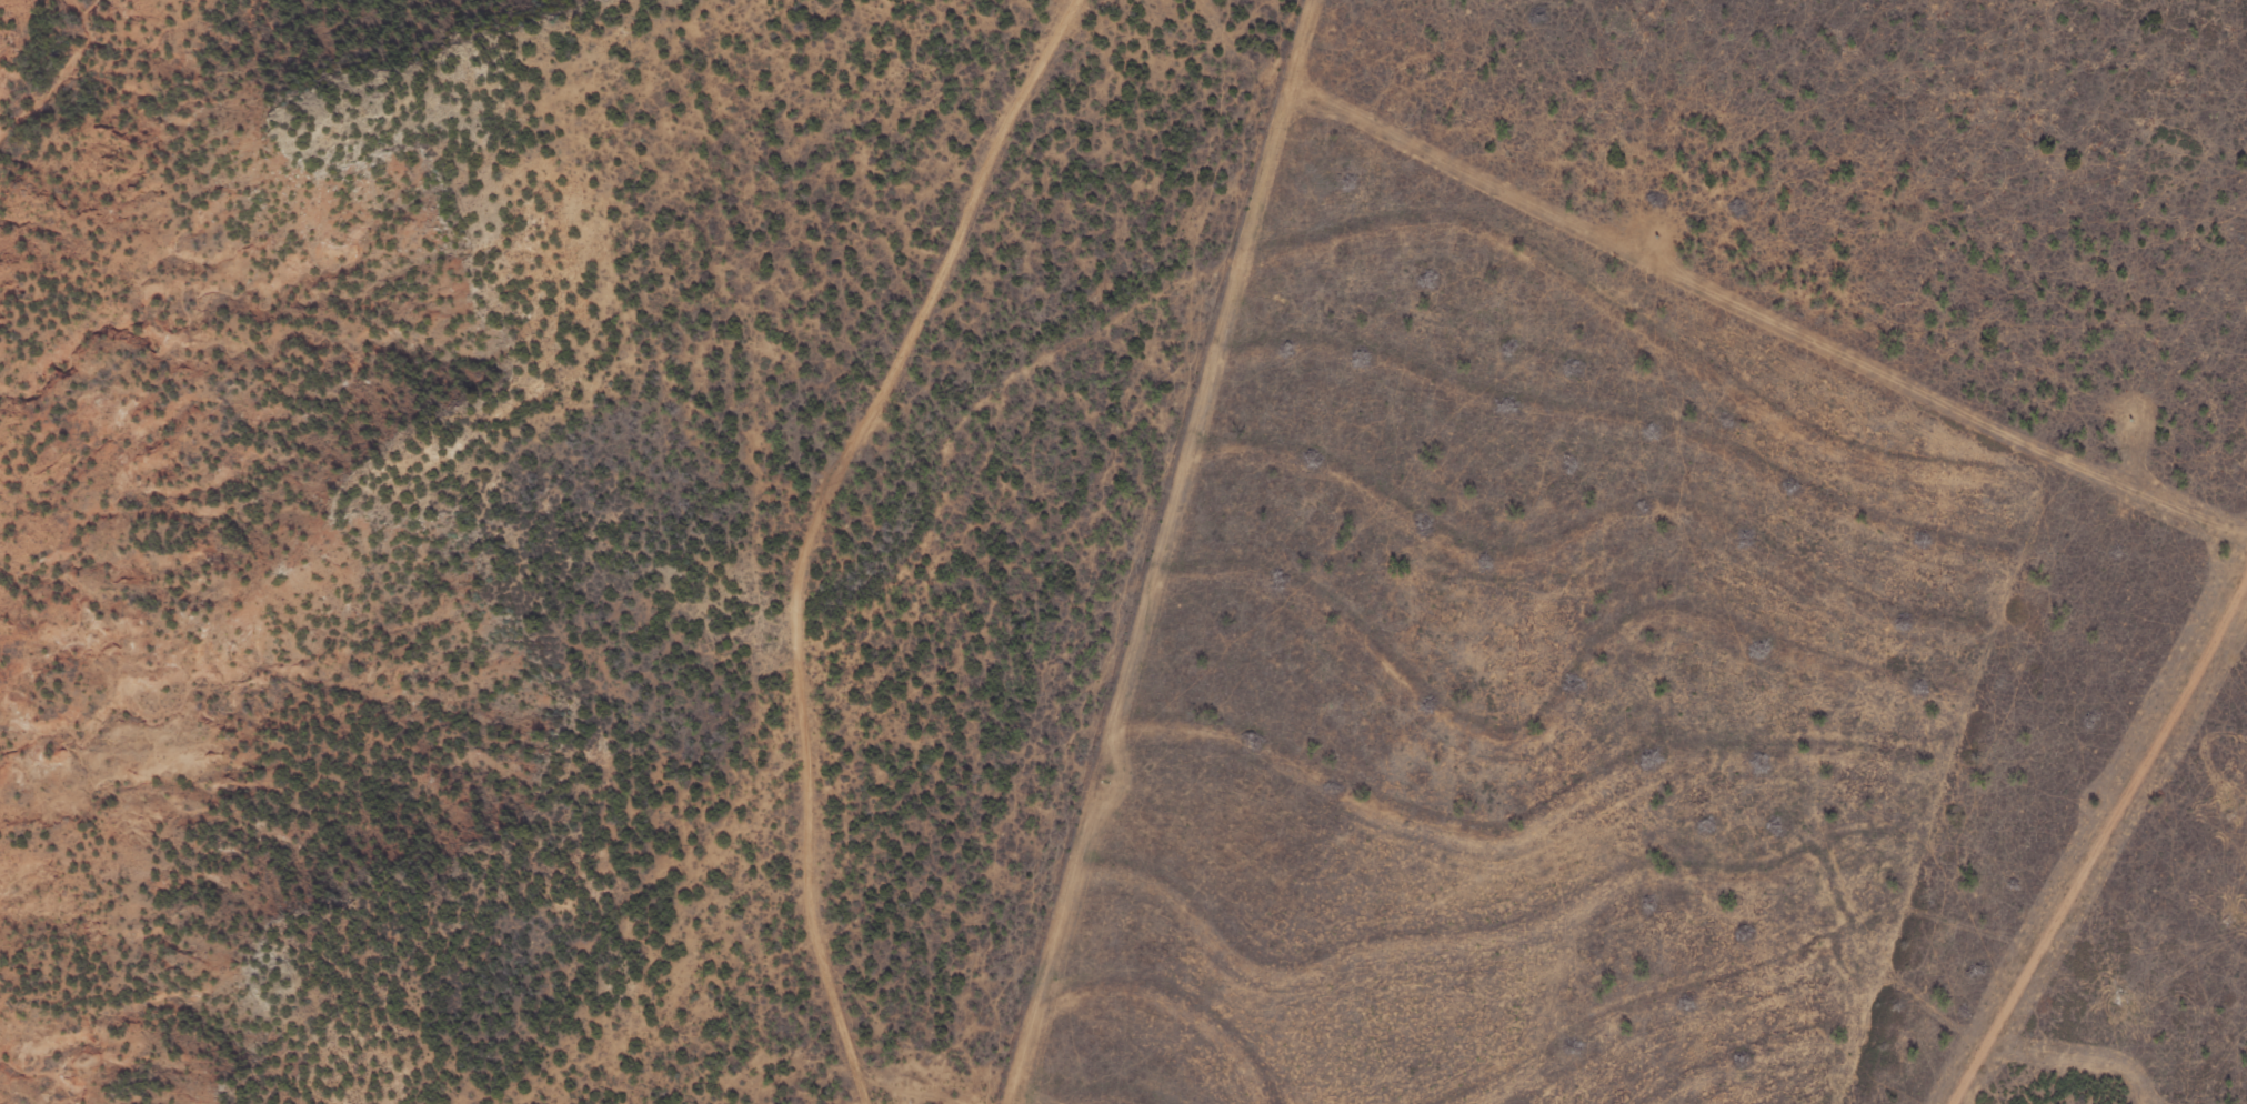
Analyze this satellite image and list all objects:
road: (790, 526)
road: (1160, 650)

